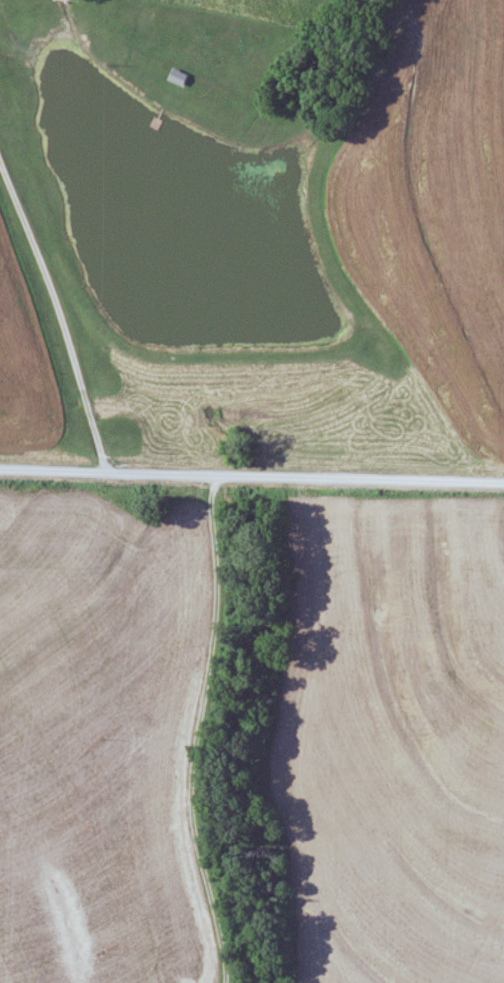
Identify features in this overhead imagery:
building: (177, 77)
road: (59, 313)
road: (251, 475)
road: (196, 729)

